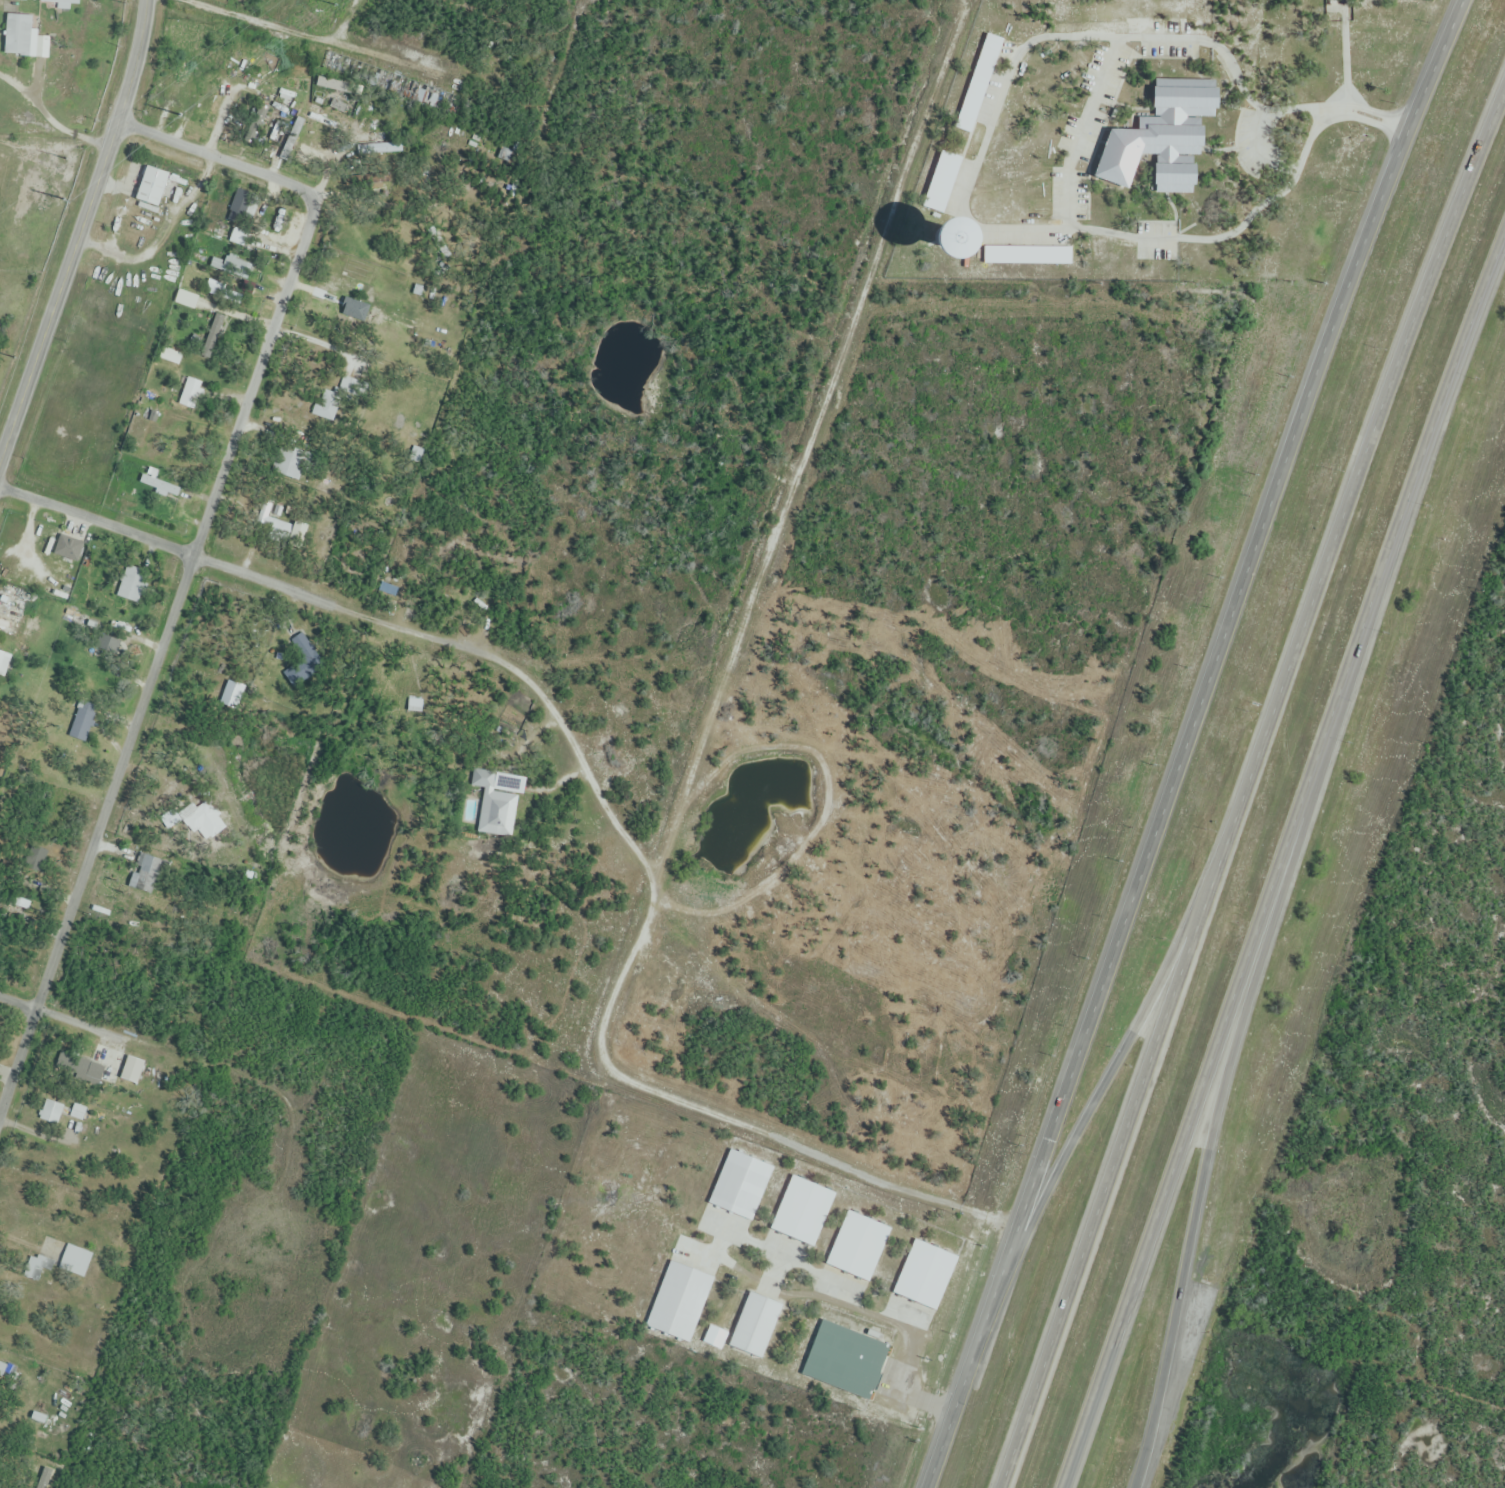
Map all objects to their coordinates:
building: (18, 32)
road: (313, 38)
building: (269, 77)
building: (389, 83)
building: (164, 84)
building: (206, 101)
building: (1174, 113)
road: (986, 136)
road: (217, 160)
building: (374, 179)
building: (151, 187)
building: (239, 209)
road: (81, 235)
road: (1122, 235)
building: (239, 237)
building: (230, 267)
building: (186, 300)
building: (352, 309)
building: (220, 326)
road: (252, 379)
building: (347, 386)
building: (191, 394)
building: (328, 405)
building: (290, 463)
building: (158, 484)
building: (267, 519)
building: (297, 532)
road: (161, 545)
building: (69, 549)
building: (387, 591)
building: (16, 604)
building: (108, 645)
building: (3, 666)
building: (232, 696)
road: (1204, 697)
building: (83, 722)
road: (1252, 798)
building: (494, 806)
road: (97, 842)
road: (1285, 860)
road: (93, 1025)
building: (51, 1111)
road: (1095, 1111)
road: (1220, 1139)
building: (75, 1261)
building: (36, 1268)
building: (755, 1325)
building: (845, 1360)
building: (42, 1481)

